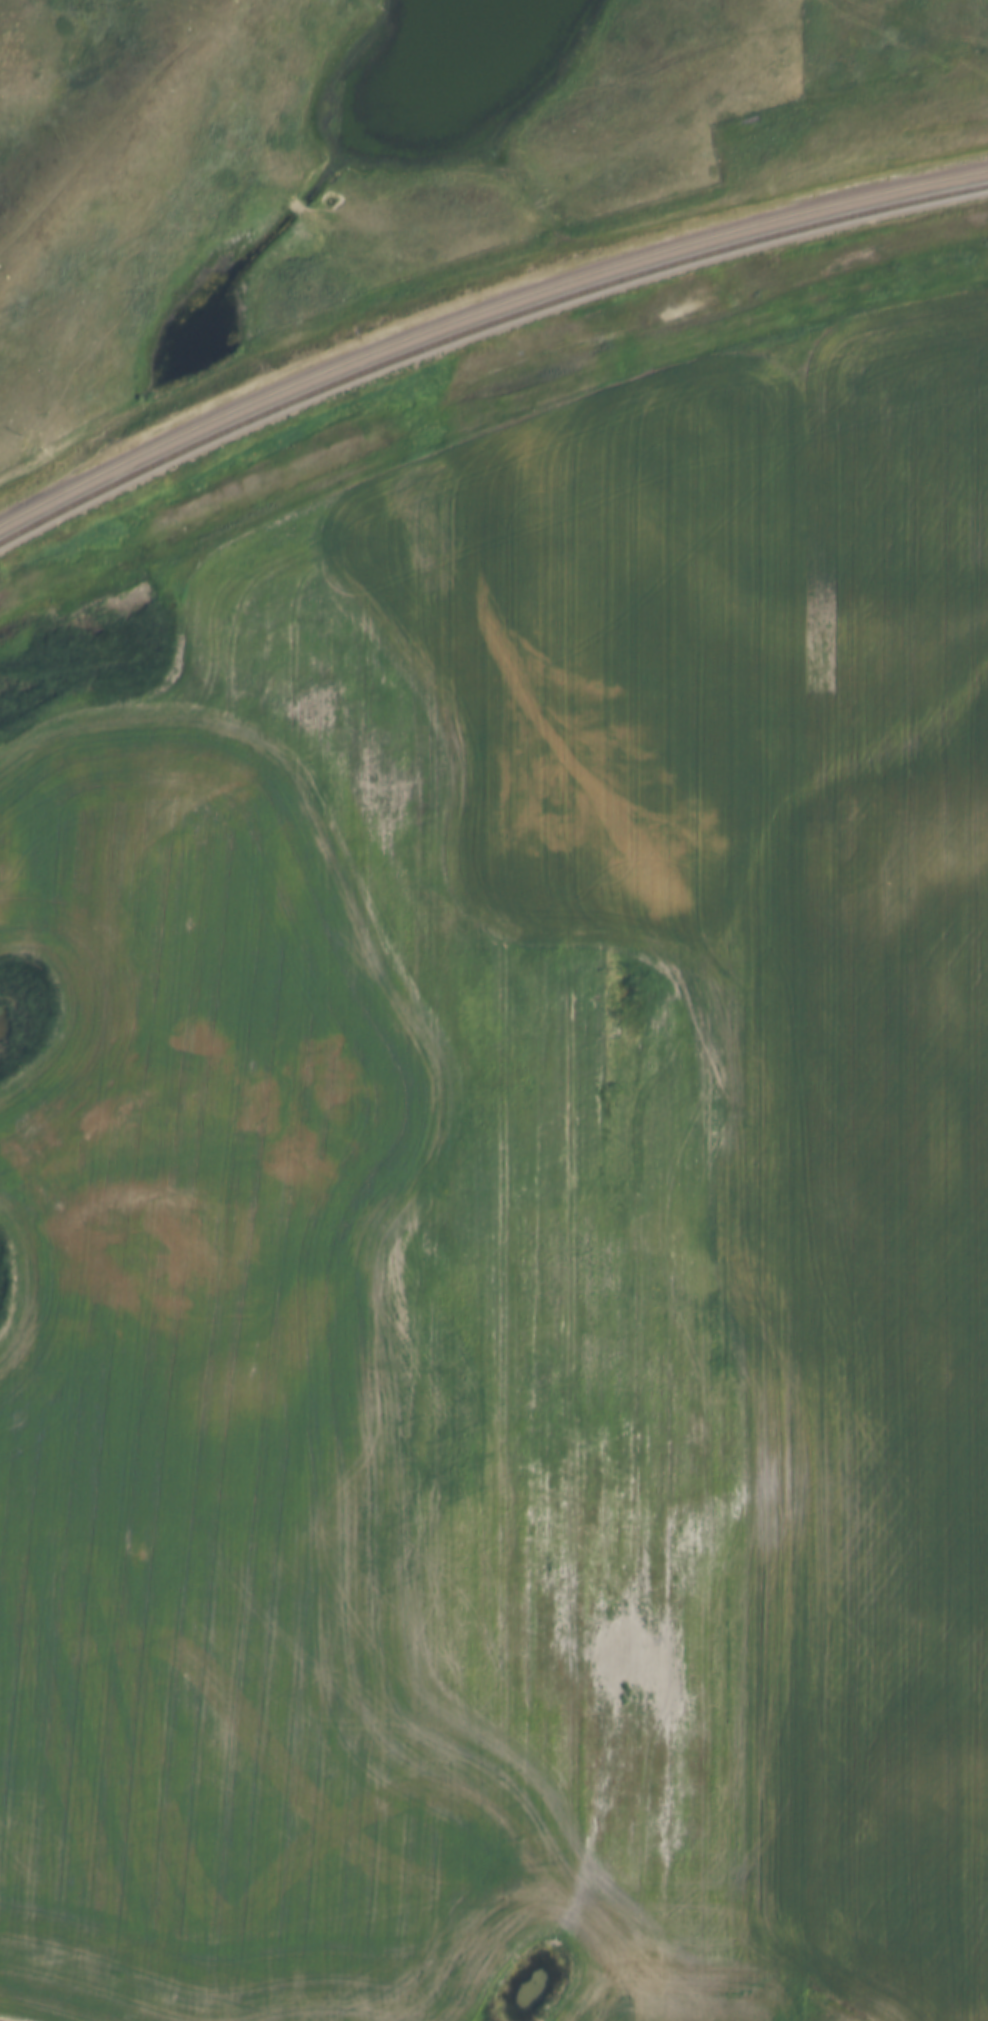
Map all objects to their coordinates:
railway: (480, 300)
railway: (481, 327)

